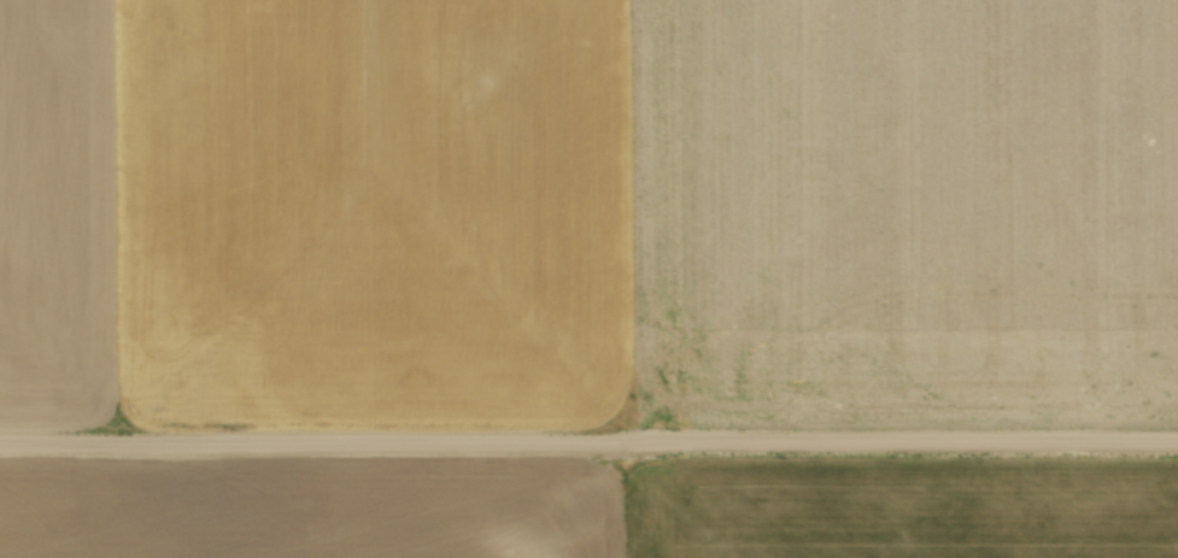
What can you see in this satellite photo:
crop: (588, 211)
road: (588, 442)
crop: (585, 510)

